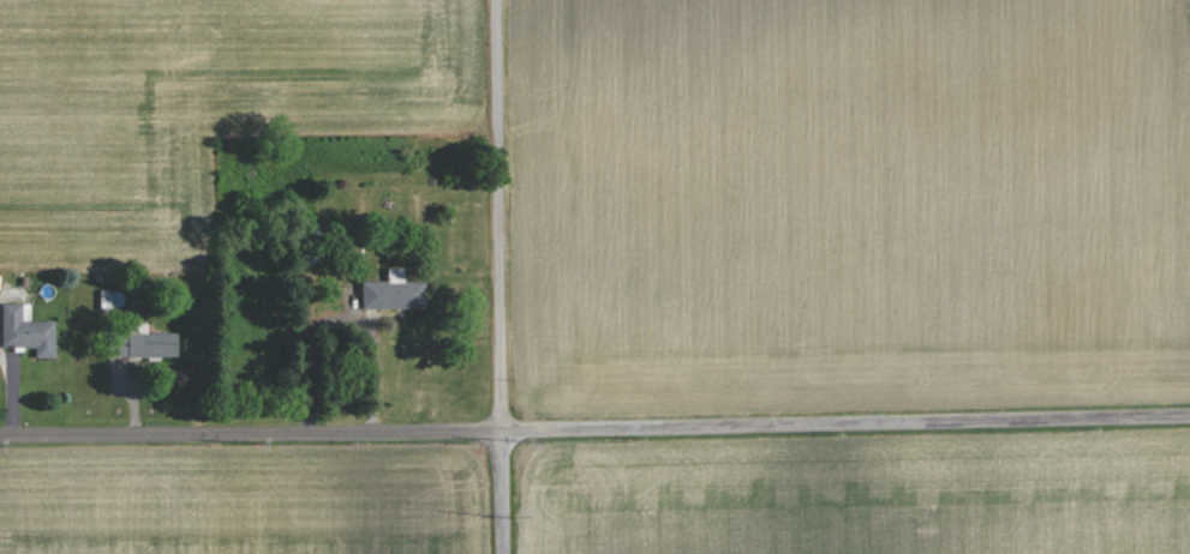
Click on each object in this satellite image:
road: (495, 277)
building: (388, 293)
building: (23, 330)
road: (594, 426)
power tower: (530, 441)
power tower: (262, 445)
power tower: (1, 448)
power tower: (516, 517)

